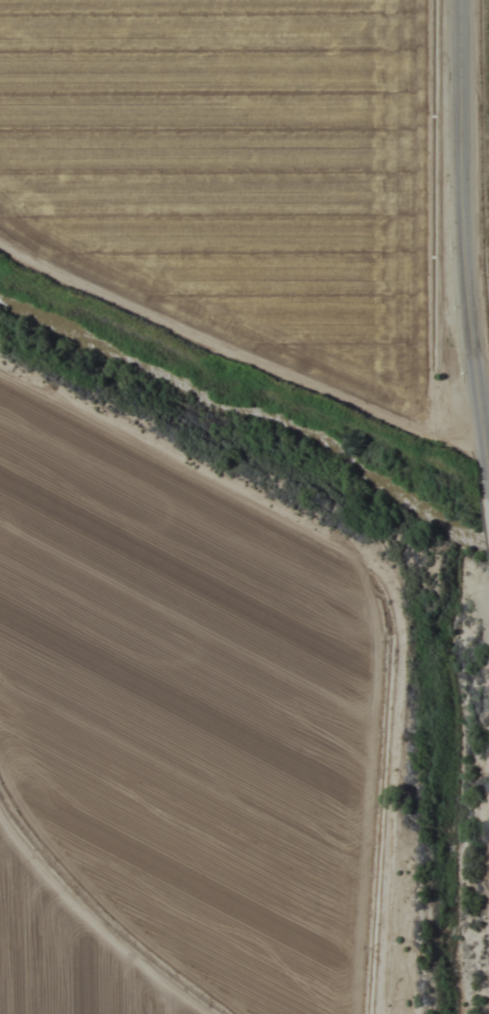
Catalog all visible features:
road: (470, 249)
river: (250, 409)
road: (480, 420)

